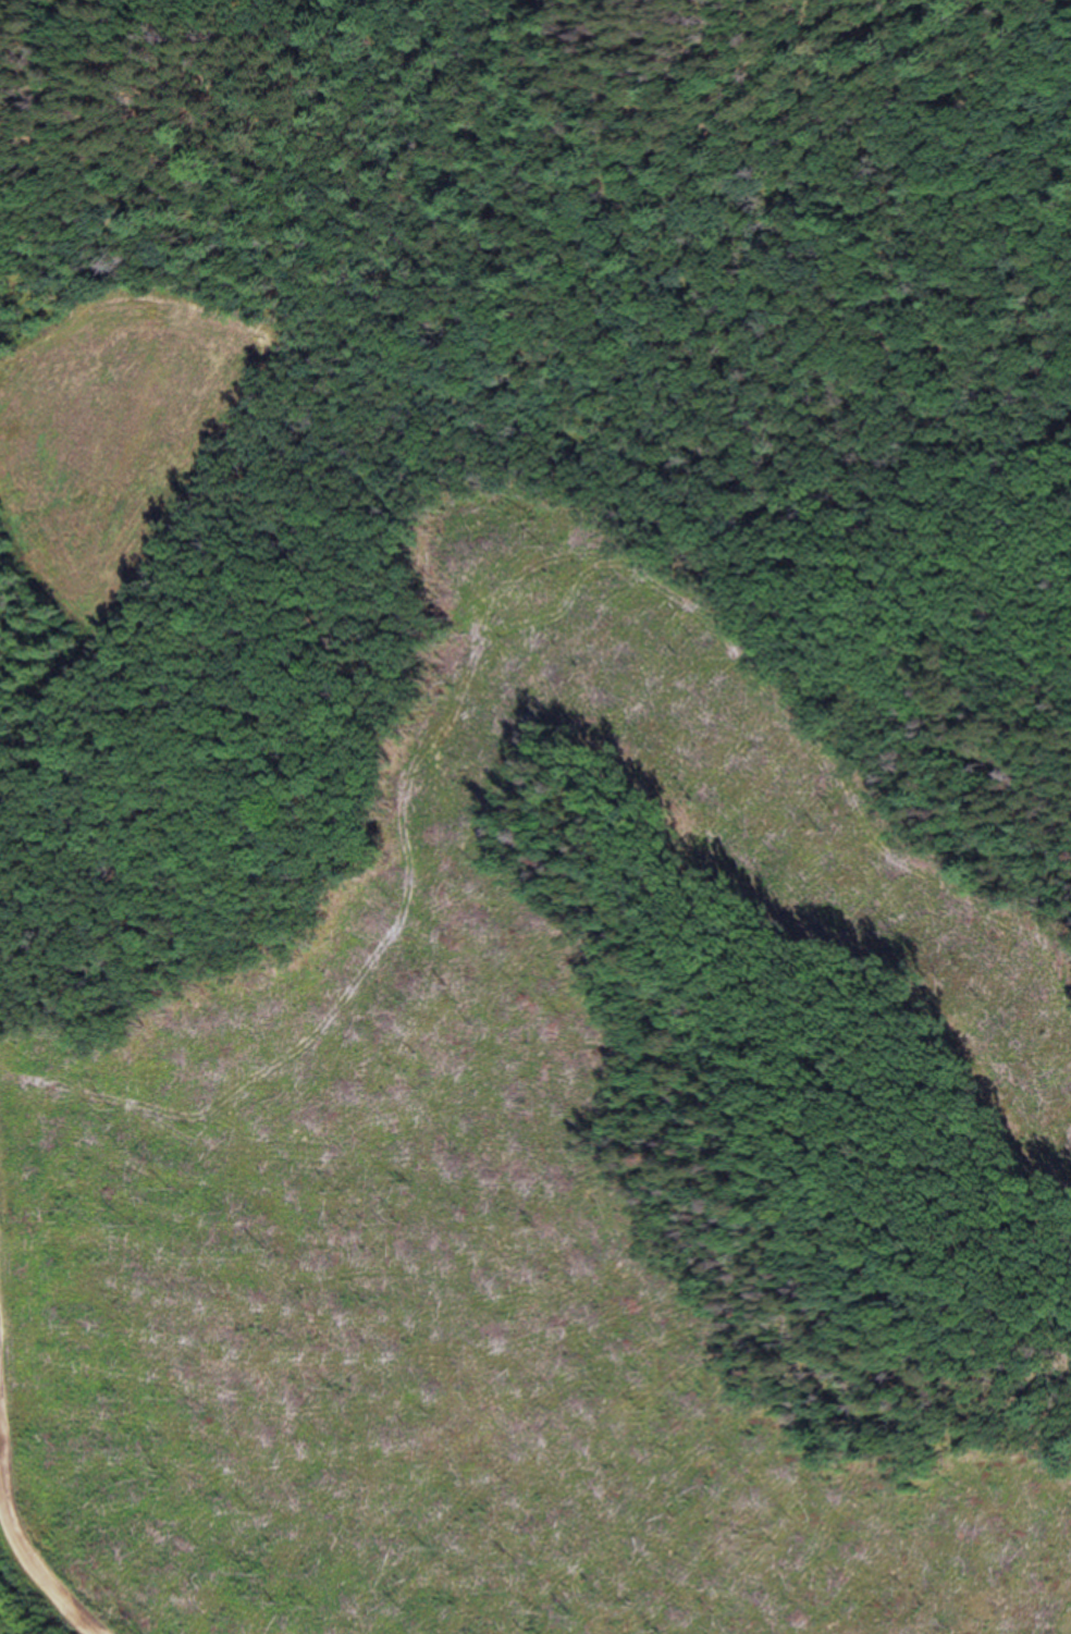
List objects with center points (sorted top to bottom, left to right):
road: (29, 1546)

